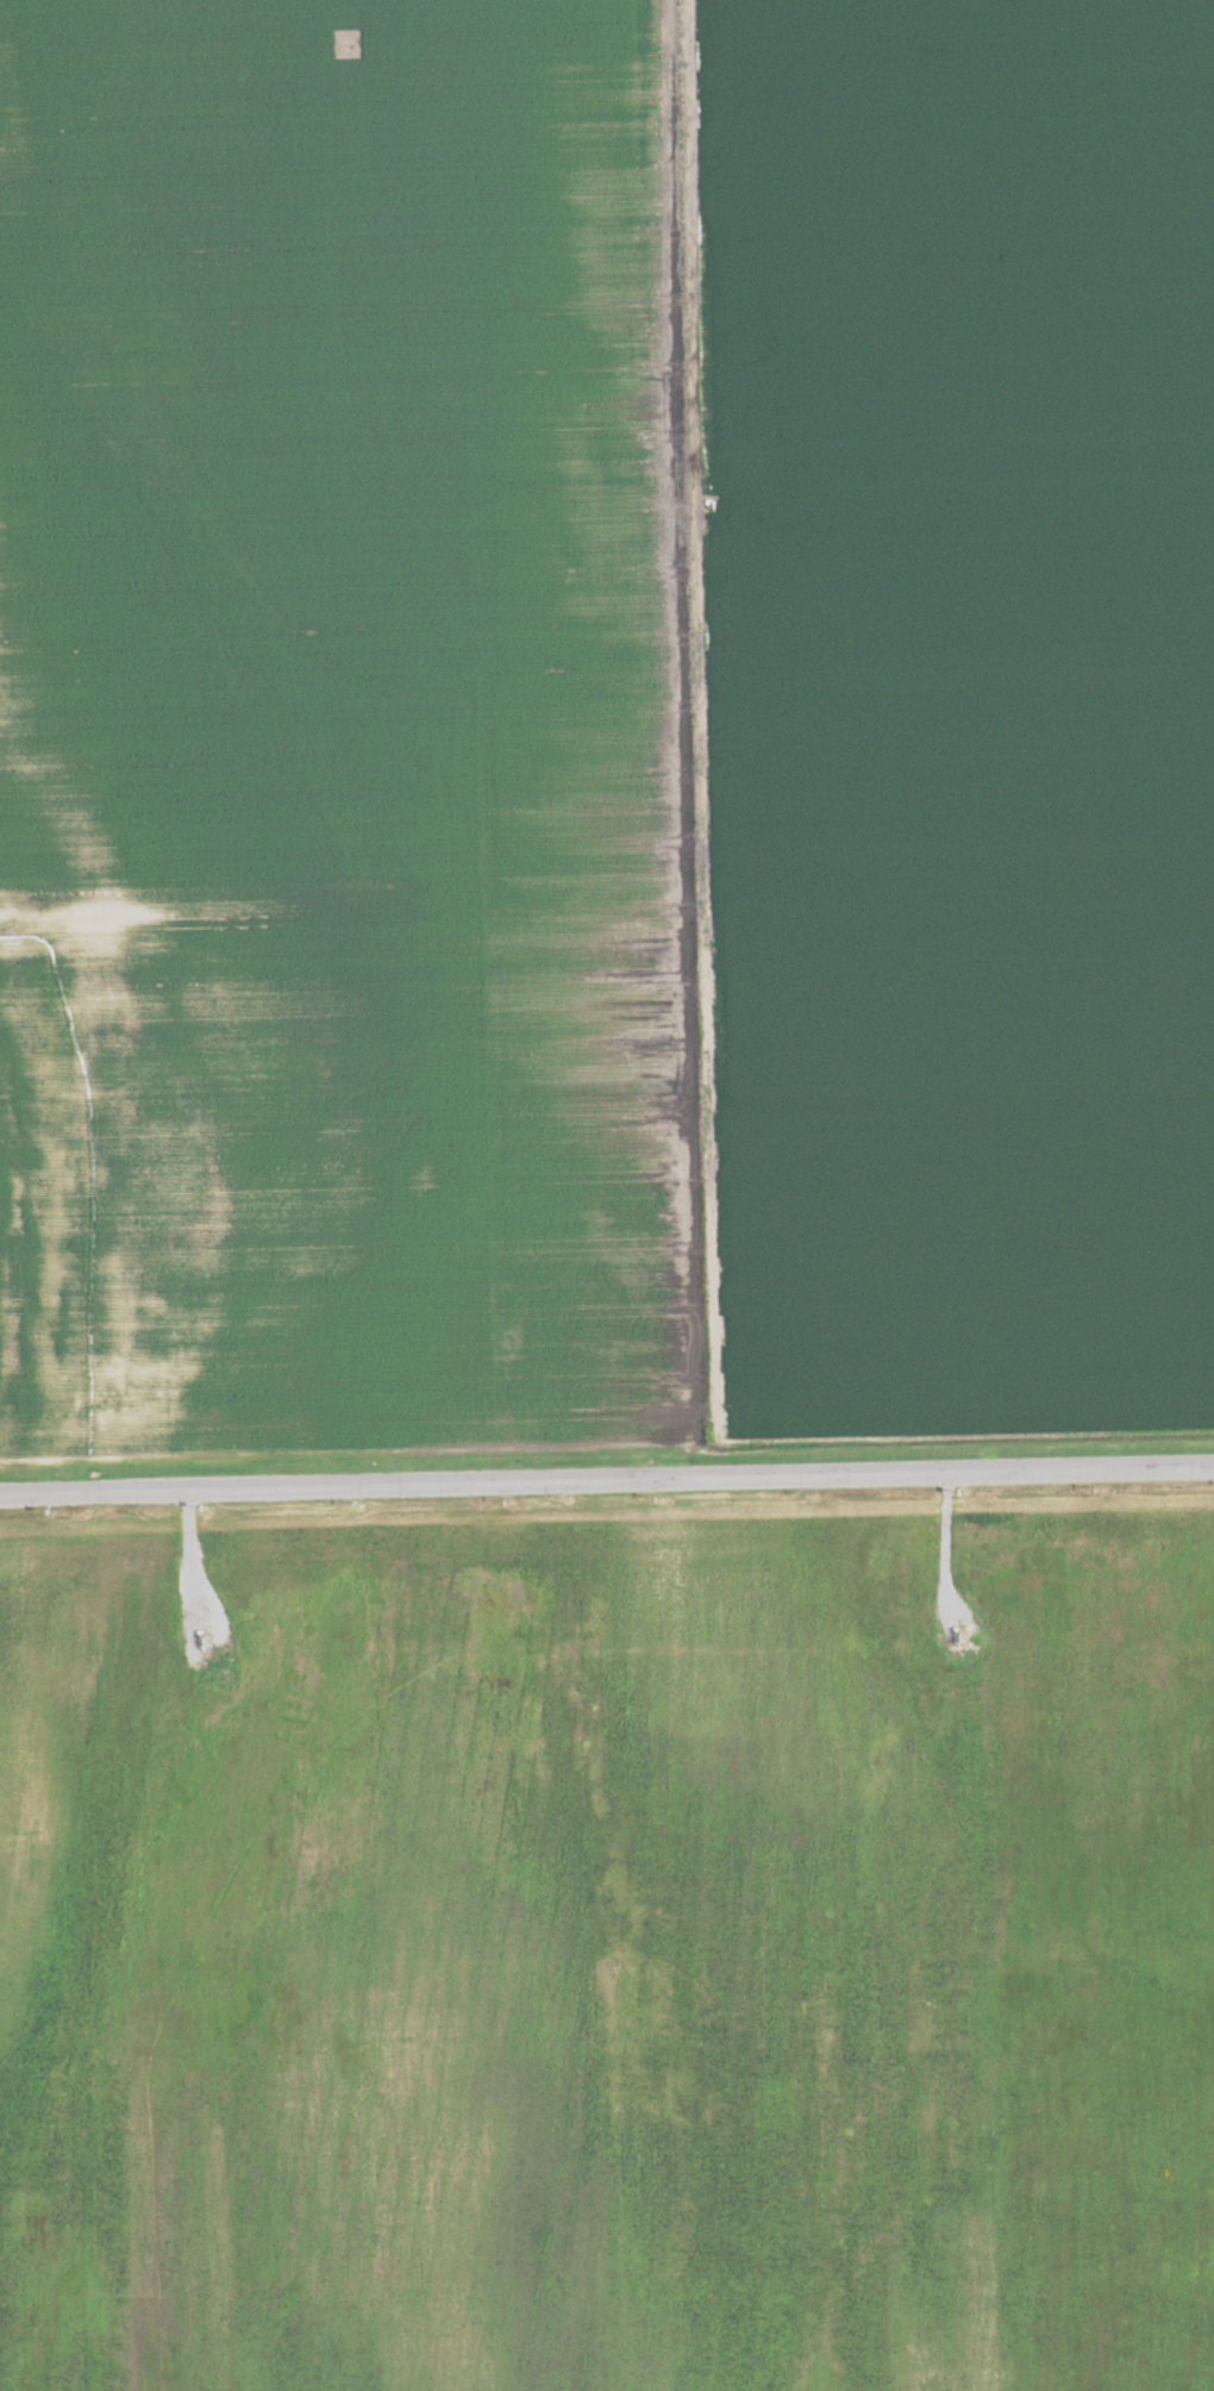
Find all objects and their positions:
road: (607, 1477)

